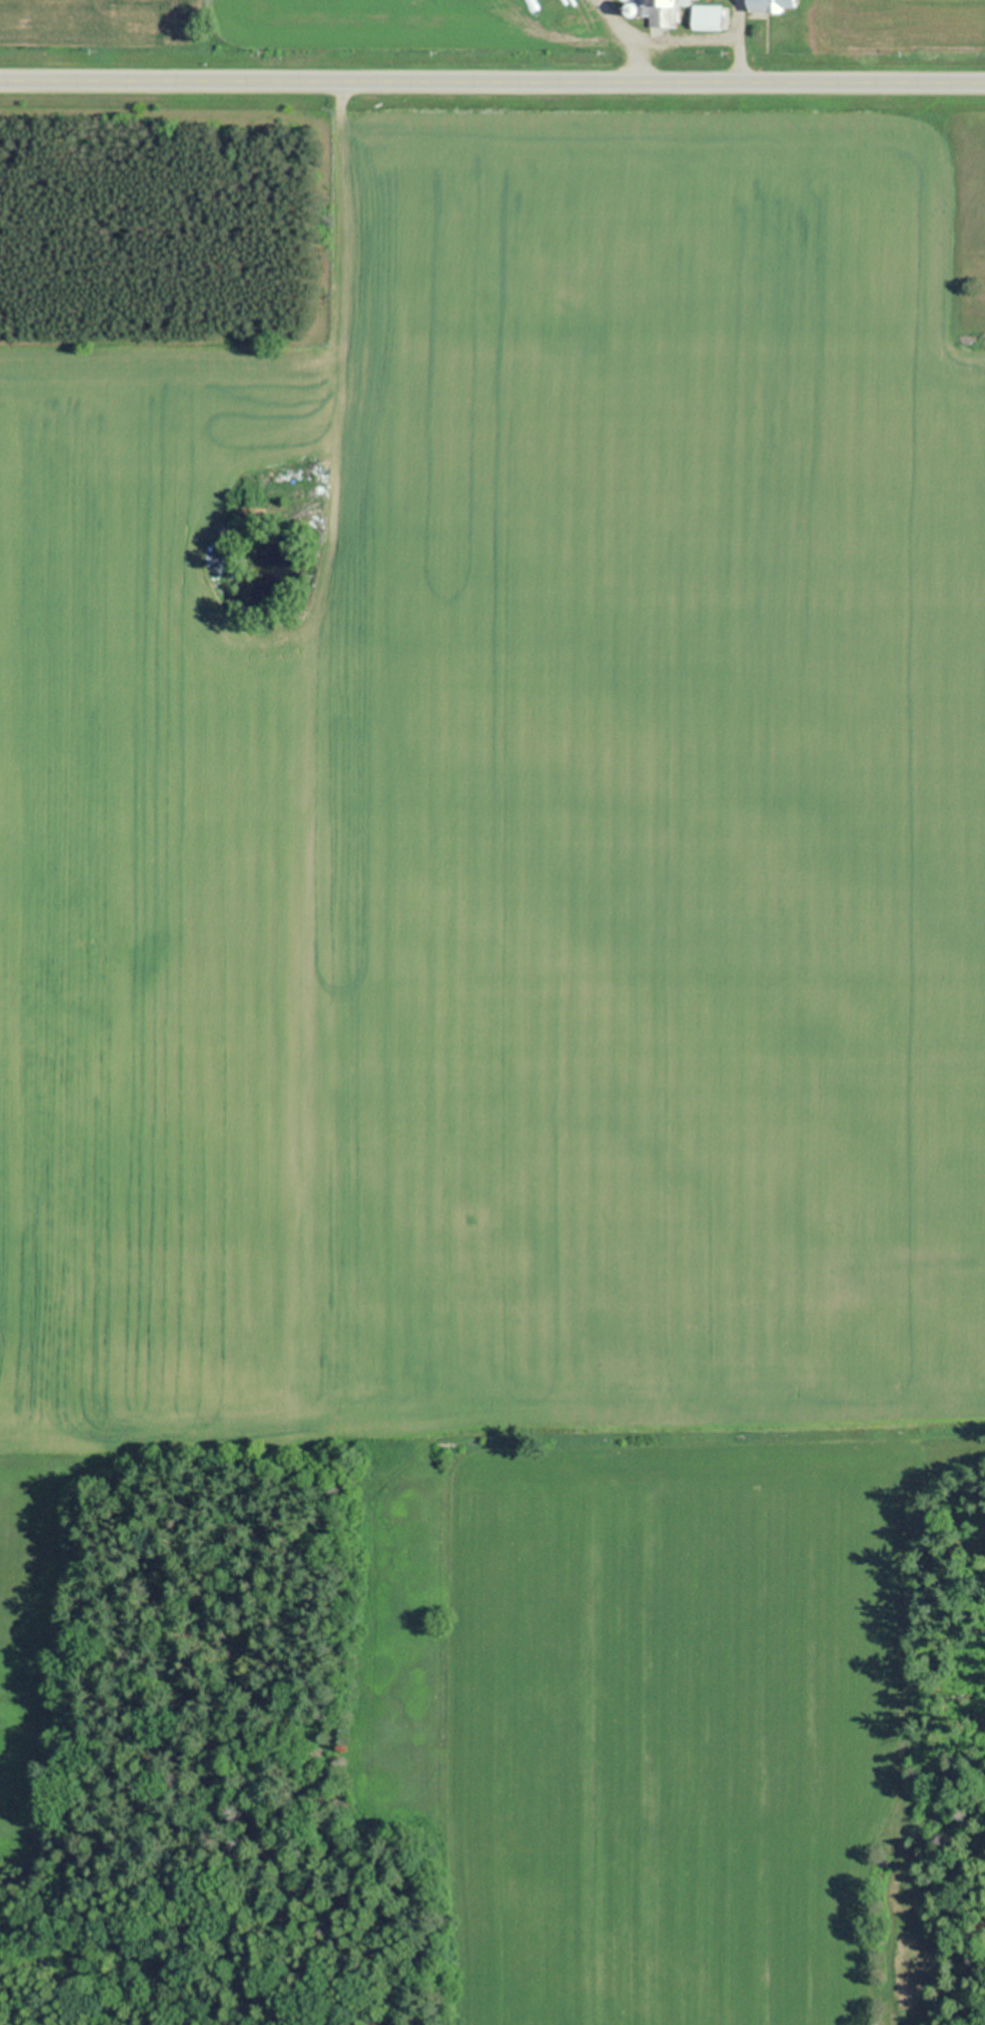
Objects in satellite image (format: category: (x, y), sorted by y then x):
building: (768, 5)
building: (662, 12)
building: (706, 15)
road: (668, 40)
road: (739, 41)
road: (492, 82)

